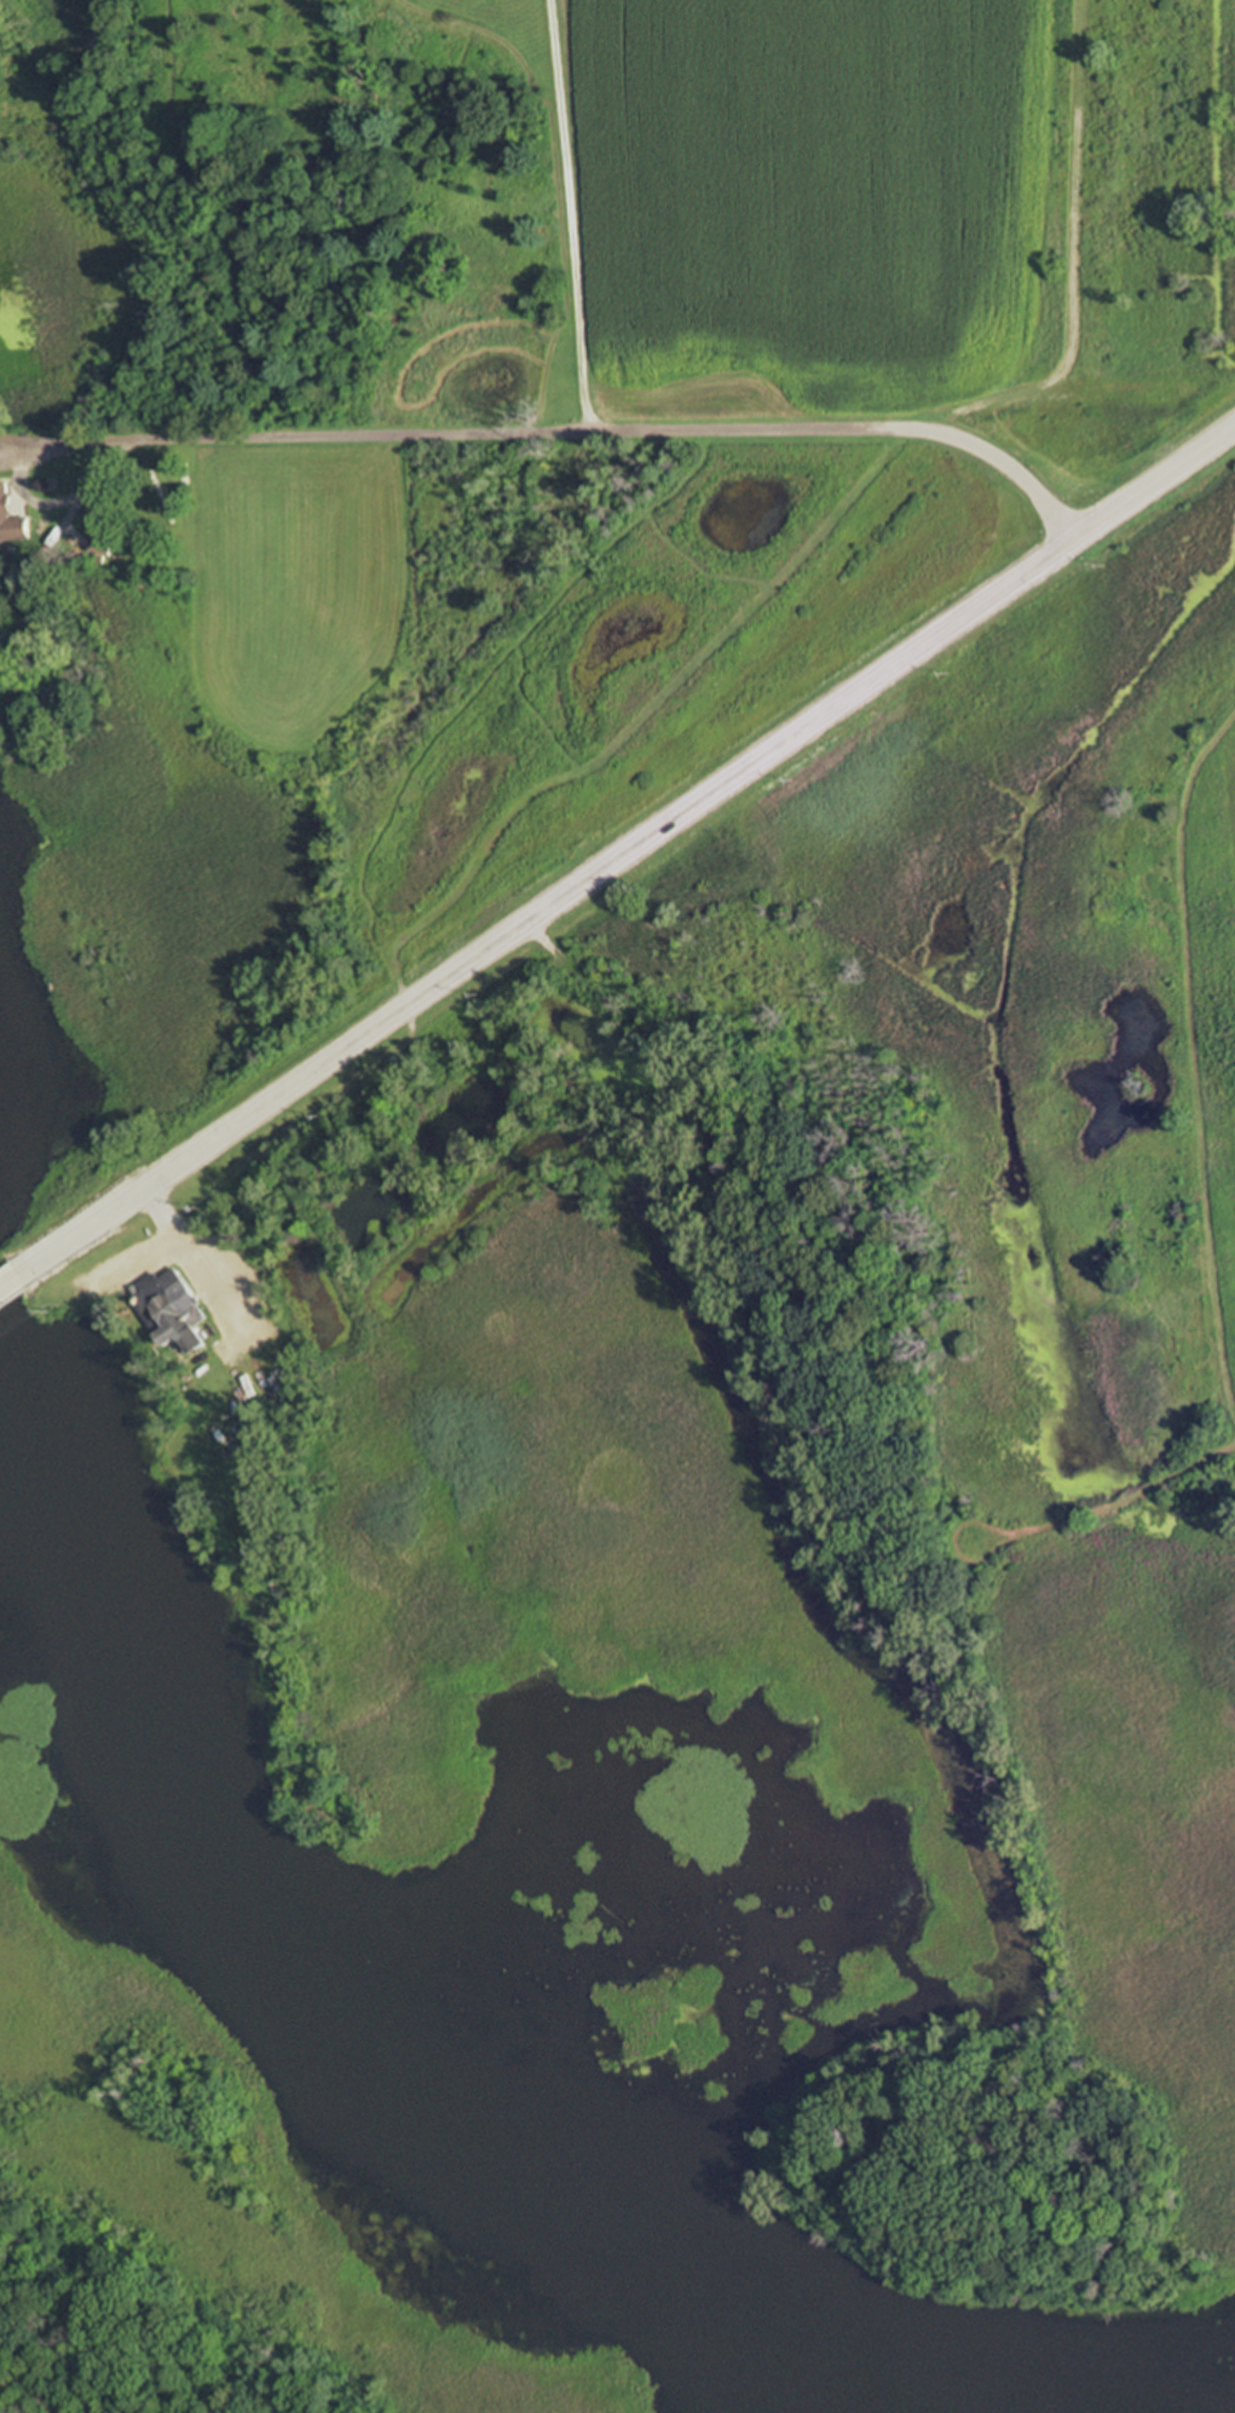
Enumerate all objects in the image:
road: (570, 217)
road: (560, 434)
building: (11, 518)
building: (100, 549)
building: (6, 631)
building: (54, 698)
road: (630, 852)
road: (196, 1259)
road: (15, 1283)
building: (175, 1309)
river: (347, 1979)

